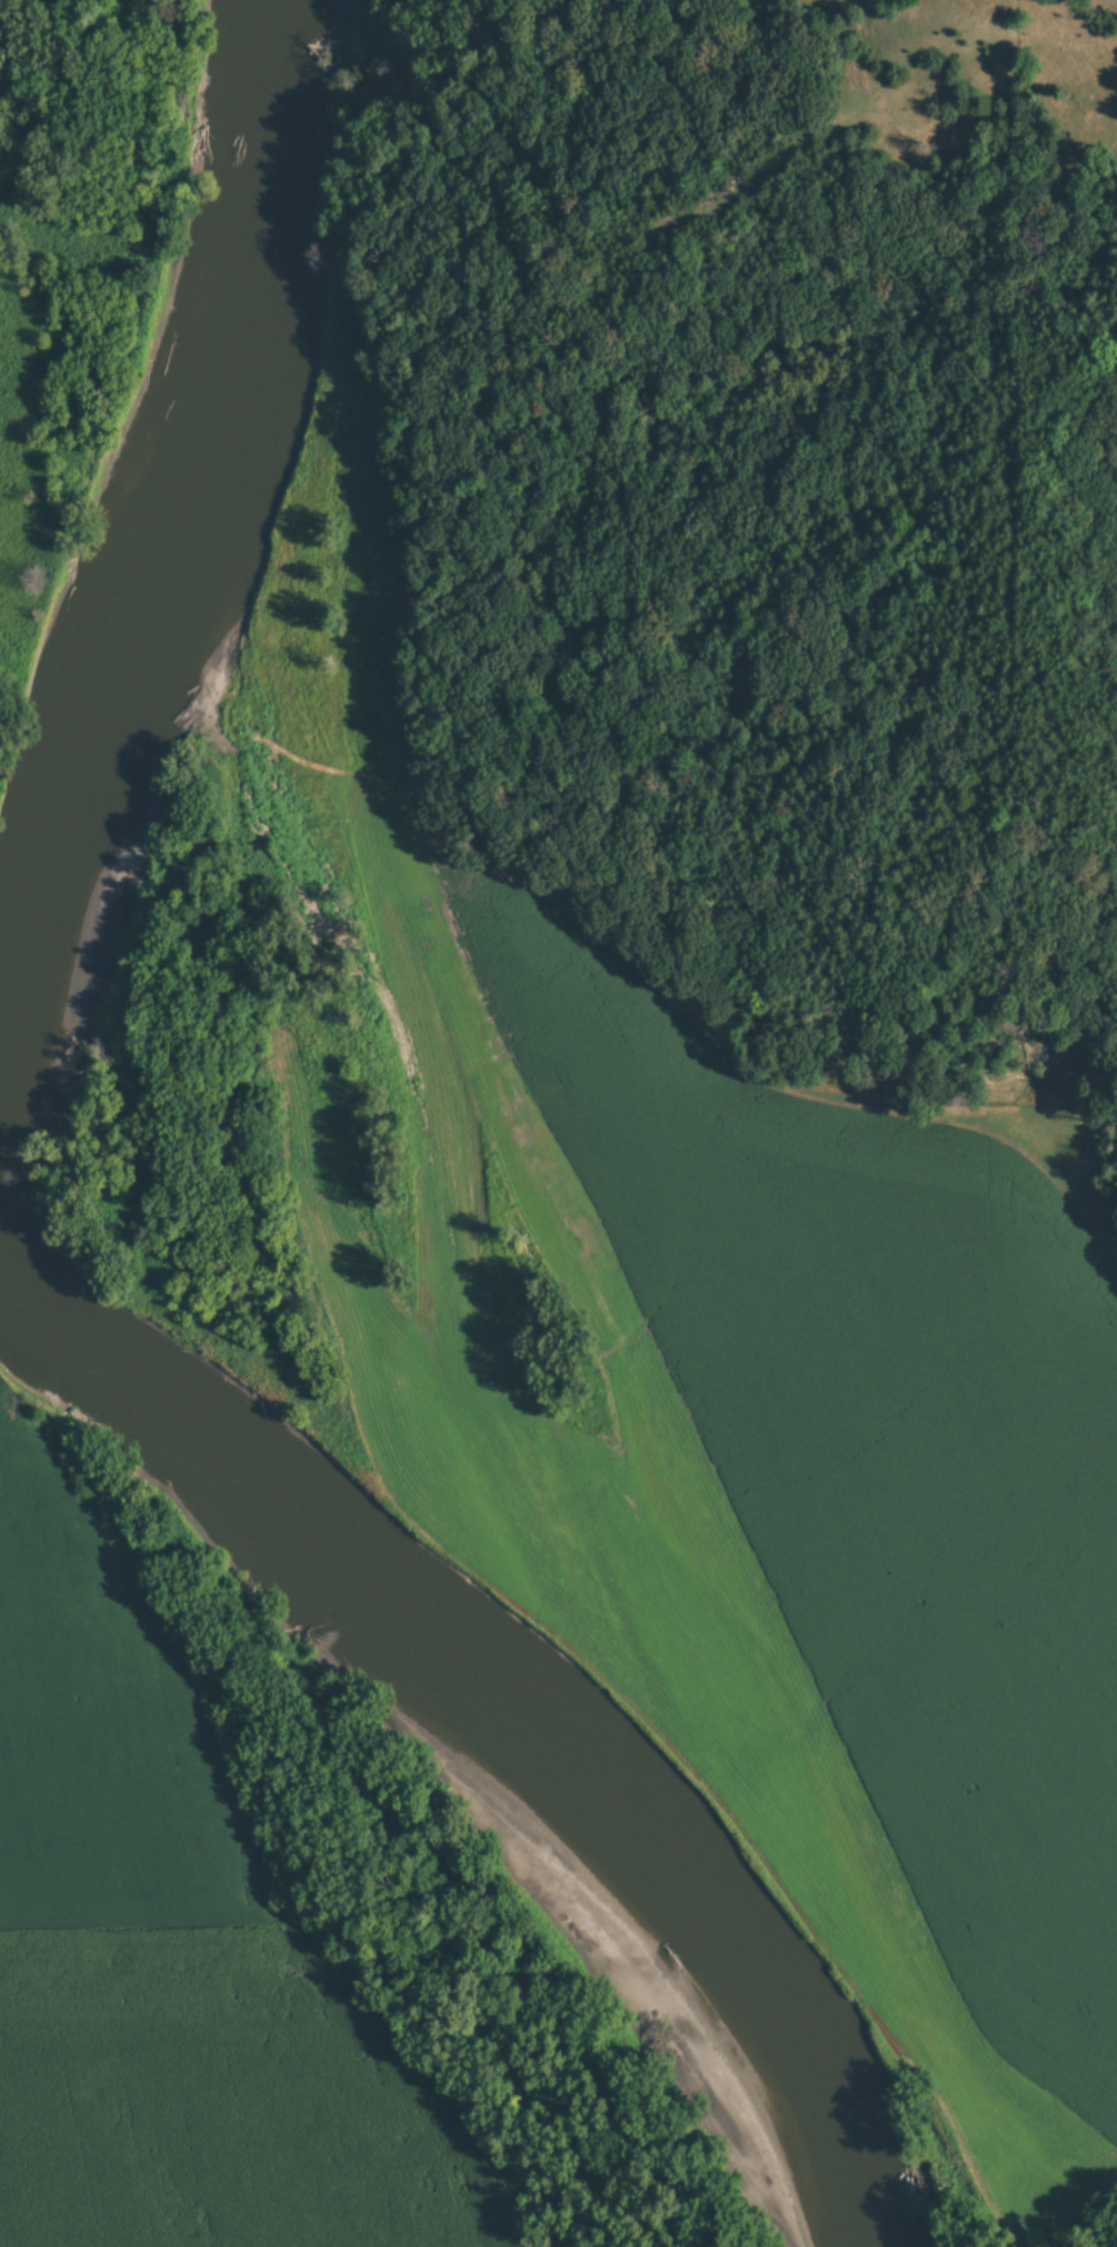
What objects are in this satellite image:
river: (184, 517)
river: (498, 1699)

